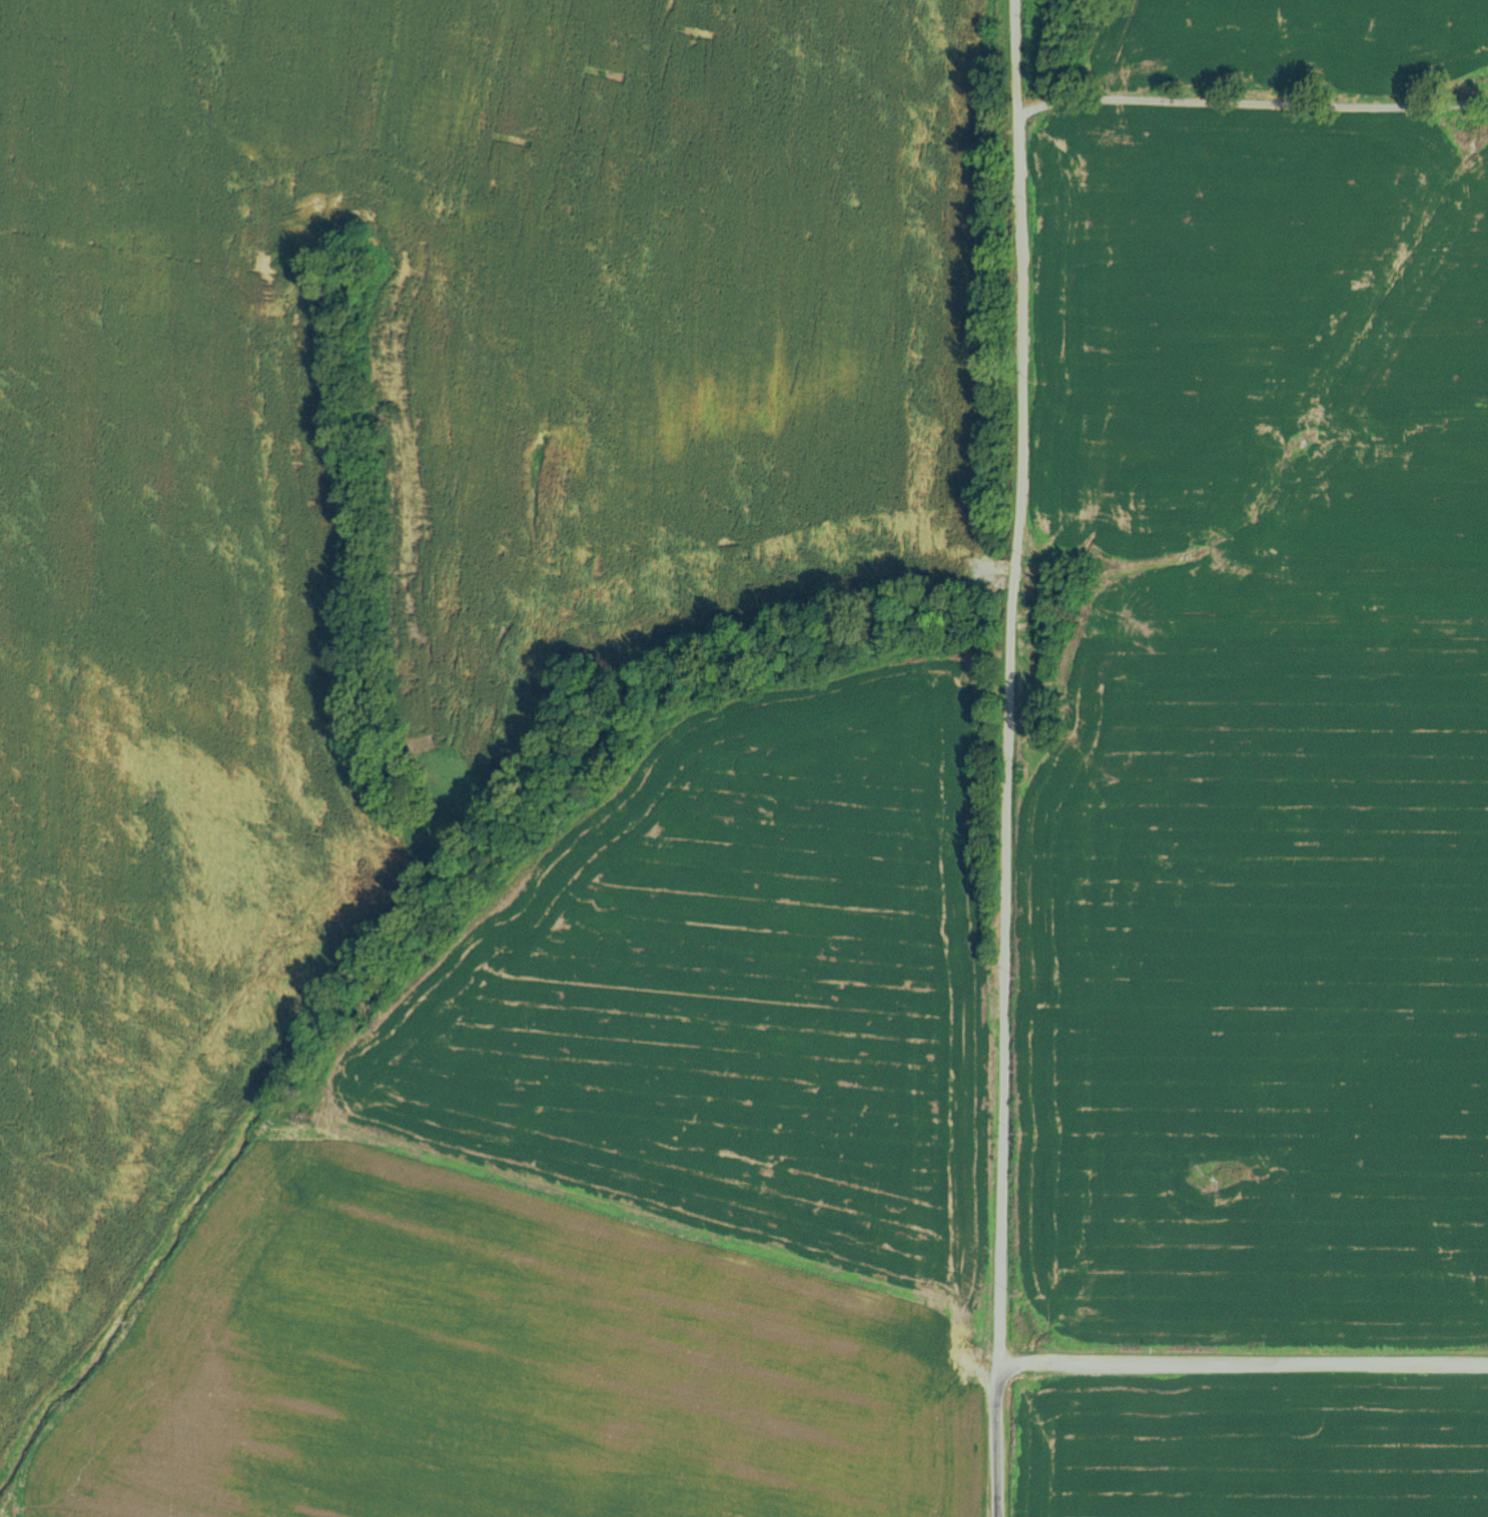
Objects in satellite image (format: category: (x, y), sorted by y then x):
road: (1252, 98)
road: (1007, 758)
road: (1244, 1361)

